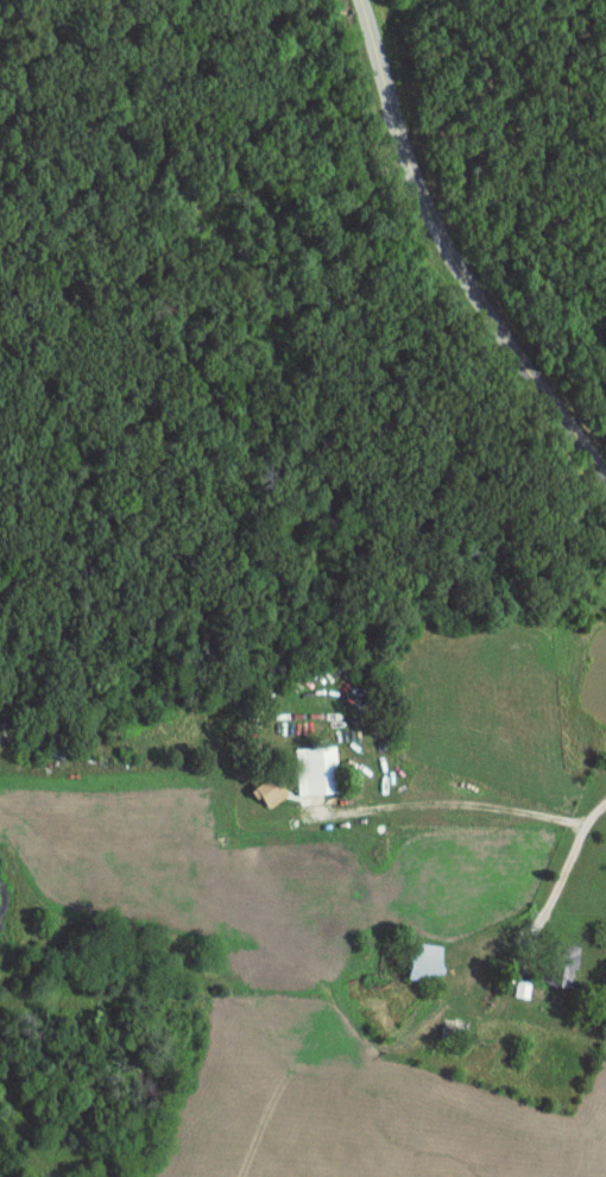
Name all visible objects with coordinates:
road: (454, 253)
building: (324, 769)
road: (551, 894)
building: (423, 962)
building: (558, 963)

